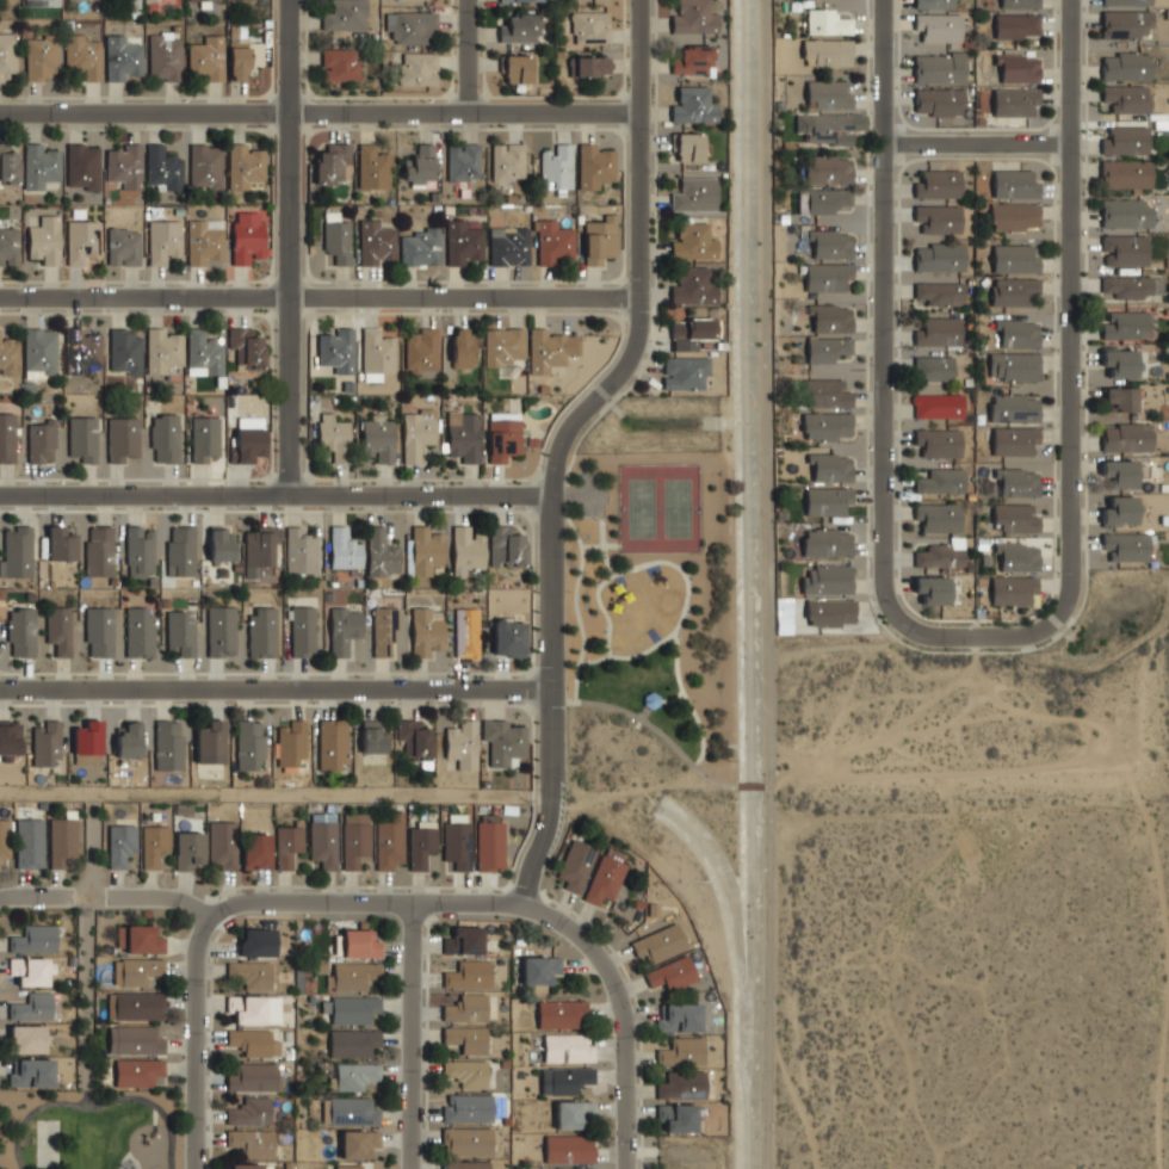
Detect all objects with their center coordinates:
building: (202, 0)
building: (520, 0)
building: (42, 2)
building: (134, 2)
building: (1126, 2)
building: (934, 4)
building: (1016, 4)
building: (345, 14)
building: (692, 18)
building: (827, 21)
building: (410, 24)
building: (1124, 24)
building: (1016, 25)
building: (520, 26)
building: (589, 26)
building: (939, 27)
building: (827, 52)
road: (466, 54)
road: (641, 54)
building: (7, 55)
building: (42, 55)
building: (85, 55)
building: (165, 56)
building: (208, 56)
building: (122, 57)
building: (691, 60)
building: (239, 62)
building: (340, 63)
building: (590, 64)
building: (417, 67)
building: (517, 67)
building: (939, 67)
building: (1125, 67)
building: (1016, 68)
building: (827, 94)
building: (1126, 99)
building: (939, 101)
building: (1014, 103)
building: (692, 106)
road: (320, 111)
building: (828, 128)
road: (978, 138)
building: (1125, 141)
building: (687, 147)
building: (507, 160)
building: (463, 161)
building: (41, 162)
building: (333, 162)
building: (420, 163)
building: (594, 163)
building: (83, 165)
building: (123, 165)
building: (205, 165)
building: (246, 165)
building: (373, 165)
building: (556, 165)
building: (8, 166)
building: (162, 168)
building: (827, 169)
building: (1125, 174)
building: (936, 183)
building: (1014, 183)
building: (694, 196)
building: (822, 200)
building: (1125, 214)
building: (1014, 216)
building: (938, 217)
building: (247, 235)
building: (600, 237)
building: (45, 239)
building: (81, 240)
building: (163, 240)
building: (205, 241)
building: (338, 241)
building: (552, 241)
building: (376, 242)
building: (463, 242)
building: (692, 242)
building: (829, 243)
building: (123, 245)
road: (293, 245)
building: (509, 245)
building: (10, 246)
building: (421, 246)
building: (1124, 249)
building: (939, 254)
building: (1015, 256)
road: (884, 276)
building: (825, 277)
road: (1072, 277)
building: (692, 286)
building: (1130, 286)
building: (1012, 289)
road: (320, 291)
building: (939, 292)
building: (829, 318)
building: (1125, 326)
building: (936, 329)
building: (1016, 330)
building: (689, 332)
building: (246, 345)
building: (505, 346)
building: (462, 347)
building: (550, 347)
building: (335, 348)
building: (125, 350)
building: (165, 350)
building: (825, 350)
building: (39, 351)
building: (81, 351)
building: (203, 352)
building: (377, 352)
building: (421, 352)
building: (8, 357)
building: (1119, 363)
building: (1013, 365)
building: (933, 367)
building: (684, 372)
road: (590, 394)
building: (825, 394)
building: (1120, 398)
building: (938, 404)
building: (1014, 407)
building: (825, 426)
building: (417, 433)
building: (464, 434)
building: (333, 435)
building: (6, 438)
building: (163, 438)
building: (247, 438)
building: (378, 438)
building: (1126, 438)
building: (122, 439)
building: (204, 439)
building: (503, 439)
building: (1015, 439)
building: (82, 440)
building: (939, 440)
building: (41, 443)
building: (830, 468)
building: (1119, 474)
building: (941, 480)
building: (1016, 481)
road: (276, 490)
parking lot: (589, 493)
road: (576, 494)
building: (825, 501)
park: (660, 507)
building: (1119, 511)
building: (938, 515)
building: (1015, 517)
building: (825, 543)
building: (60, 544)
building: (508, 544)
building: (219, 545)
road: (600, 545)
building: (1124, 546)
building: (344, 549)
building: (99, 550)
building: (426, 550)
building: (466, 550)
building: (180, 551)
building: (259, 551)
building: (381, 551)
building: (16, 552)
building: (138, 552)
building: (301, 552)
building: (939, 555)
building: (1018, 556)
road: (652, 561)
building: (827, 580)
road: (576, 582)
road: (768, 583)
building: (933, 588)
building: (1013, 589)
road: (604, 608)
building: (829, 612)
park: (649, 623)
building: (58, 629)
building: (344, 629)
building: (221, 630)
building: (302, 630)
building: (384, 630)
building: (426, 630)
building: (99, 631)
building: (140, 631)
building: (261, 631)
building: (20, 632)
building: (180, 632)
building: (466, 632)
road: (674, 632)
road: (977, 633)
building: (508, 637)
road: (276, 686)
road: (673, 698)
building: (651, 700)
road: (644, 711)
road: (651, 724)
building: (372, 737)
building: (414, 737)
building: (87, 738)
building: (10, 740)
building: (128, 740)
building: (505, 740)
building: (209, 742)
building: (291, 742)
building: (47, 743)
building: (332, 743)
building: (463, 743)
building: (167, 744)
building: (249, 744)
road: (749, 784)
road: (766, 785)
road: (272, 794)
road: (544, 798)
building: (5, 836)
building: (457, 840)
building: (62, 841)
building: (390, 841)
building: (29, 842)
building: (154, 842)
building: (120, 843)
building: (286, 843)
building: (323, 843)
building: (354, 843)
building: (223, 845)
building: (422, 845)
building: (490, 845)
building: (188, 849)
building: (256, 851)
building: (575, 865)
building: (604, 879)
road: (36, 895)
road: (324, 903)
building: (33, 939)
building: (138, 939)
building: (256, 941)
building: (463, 941)
building: (360, 942)
building: (658, 944)
building: (540, 969)
building: (138, 970)
building: (31, 971)
building: (249, 973)
building: (351, 973)
building: (468, 973)
building: (670, 973)
road: (88, 1004)
building: (136, 1004)
building: (33, 1007)
building: (351, 1007)
building: (468, 1007)
building: (254, 1008)
road: (621, 1010)
building: (559, 1012)
building: (679, 1018)
road: (412, 1035)
road: (196, 1037)
building: (465, 1038)
building: (26, 1039)
building: (136, 1039)
building: (352, 1040)
building: (253, 1041)
building: (568, 1046)
building: (680, 1052)
building: (31, 1071)
building: (137, 1072)
building: (466, 1072)
building: (353, 1075)
building: (253, 1077)
building: (564, 1078)
building: (681, 1085)
road: (97, 1103)
building: (466, 1108)
building: (249, 1111)
building: (350, 1111)
building: (574, 1114)
building: (676, 1117)
park: (92, 1128)
building: (252, 1142)
building: (466, 1142)
building: (358, 1143)
building: (569, 1149)
building: (351, 1165)
building: (465, 1165)
building: (243, 1167)
building: (568, 1168)

